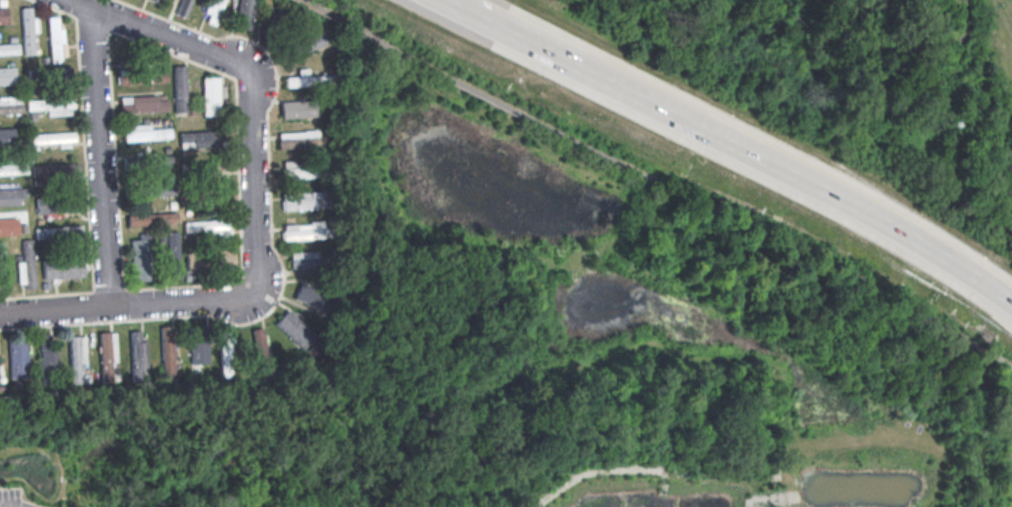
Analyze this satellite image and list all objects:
building: (182, 6)
building: (243, 14)
building: (2, 15)
building: (28, 30)
road: (164, 33)
building: (55, 40)
building: (307, 43)
building: (8, 48)
building: (7, 75)
building: (305, 79)
building: (179, 88)
building: (209, 95)
building: (143, 103)
building: (10, 105)
building: (51, 105)
building: (296, 108)
building: (145, 132)
building: (6, 136)
road: (712, 136)
building: (54, 138)
building: (196, 139)
building: (296, 139)
road: (100, 155)
building: (158, 160)
building: (208, 166)
building: (13, 168)
building: (300, 168)
building: (55, 169)
road: (640, 174)
road: (255, 176)
building: (153, 188)
building: (10, 196)
building: (301, 200)
building: (47, 205)
building: (151, 218)
building: (202, 225)
building: (8, 226)
building: (304, 230)
building: (58, 232)
building: (173, 254)
building: (140, 257)
building: (224, 257)
building: (304, 258)
building: (26, 265)
building: (63, 268)
road: (984, 284)
building: (308, 294)
road: (1001, 294)
road: (133, 304)
building: (295, 328)
building: (166, 351)
building: (261, 351)
building: (198, 352)
building: (224, 354)
road: (996, 354)
building: (135, 355)
building: (17, 356)
building: (47, 357)
building: (104, 357)
building: (74, 359)

